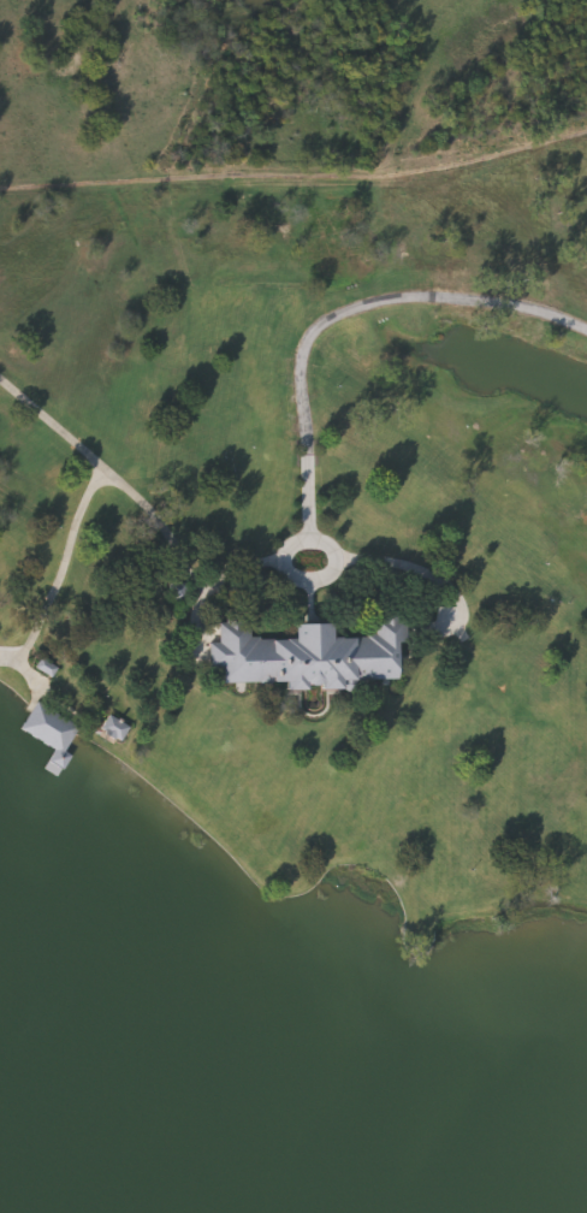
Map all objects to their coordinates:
road: (342, 314)
road: (112, 475)
road: (420, 568)
road: (318, 576)
road: (55, 579)
road: (211, 584)
building: (173, 590)
road: (309, 600)
road: (12, 647)
building: (307, 653)
building: (45, 665)
building: (112, 726)
building: (48, 732)

